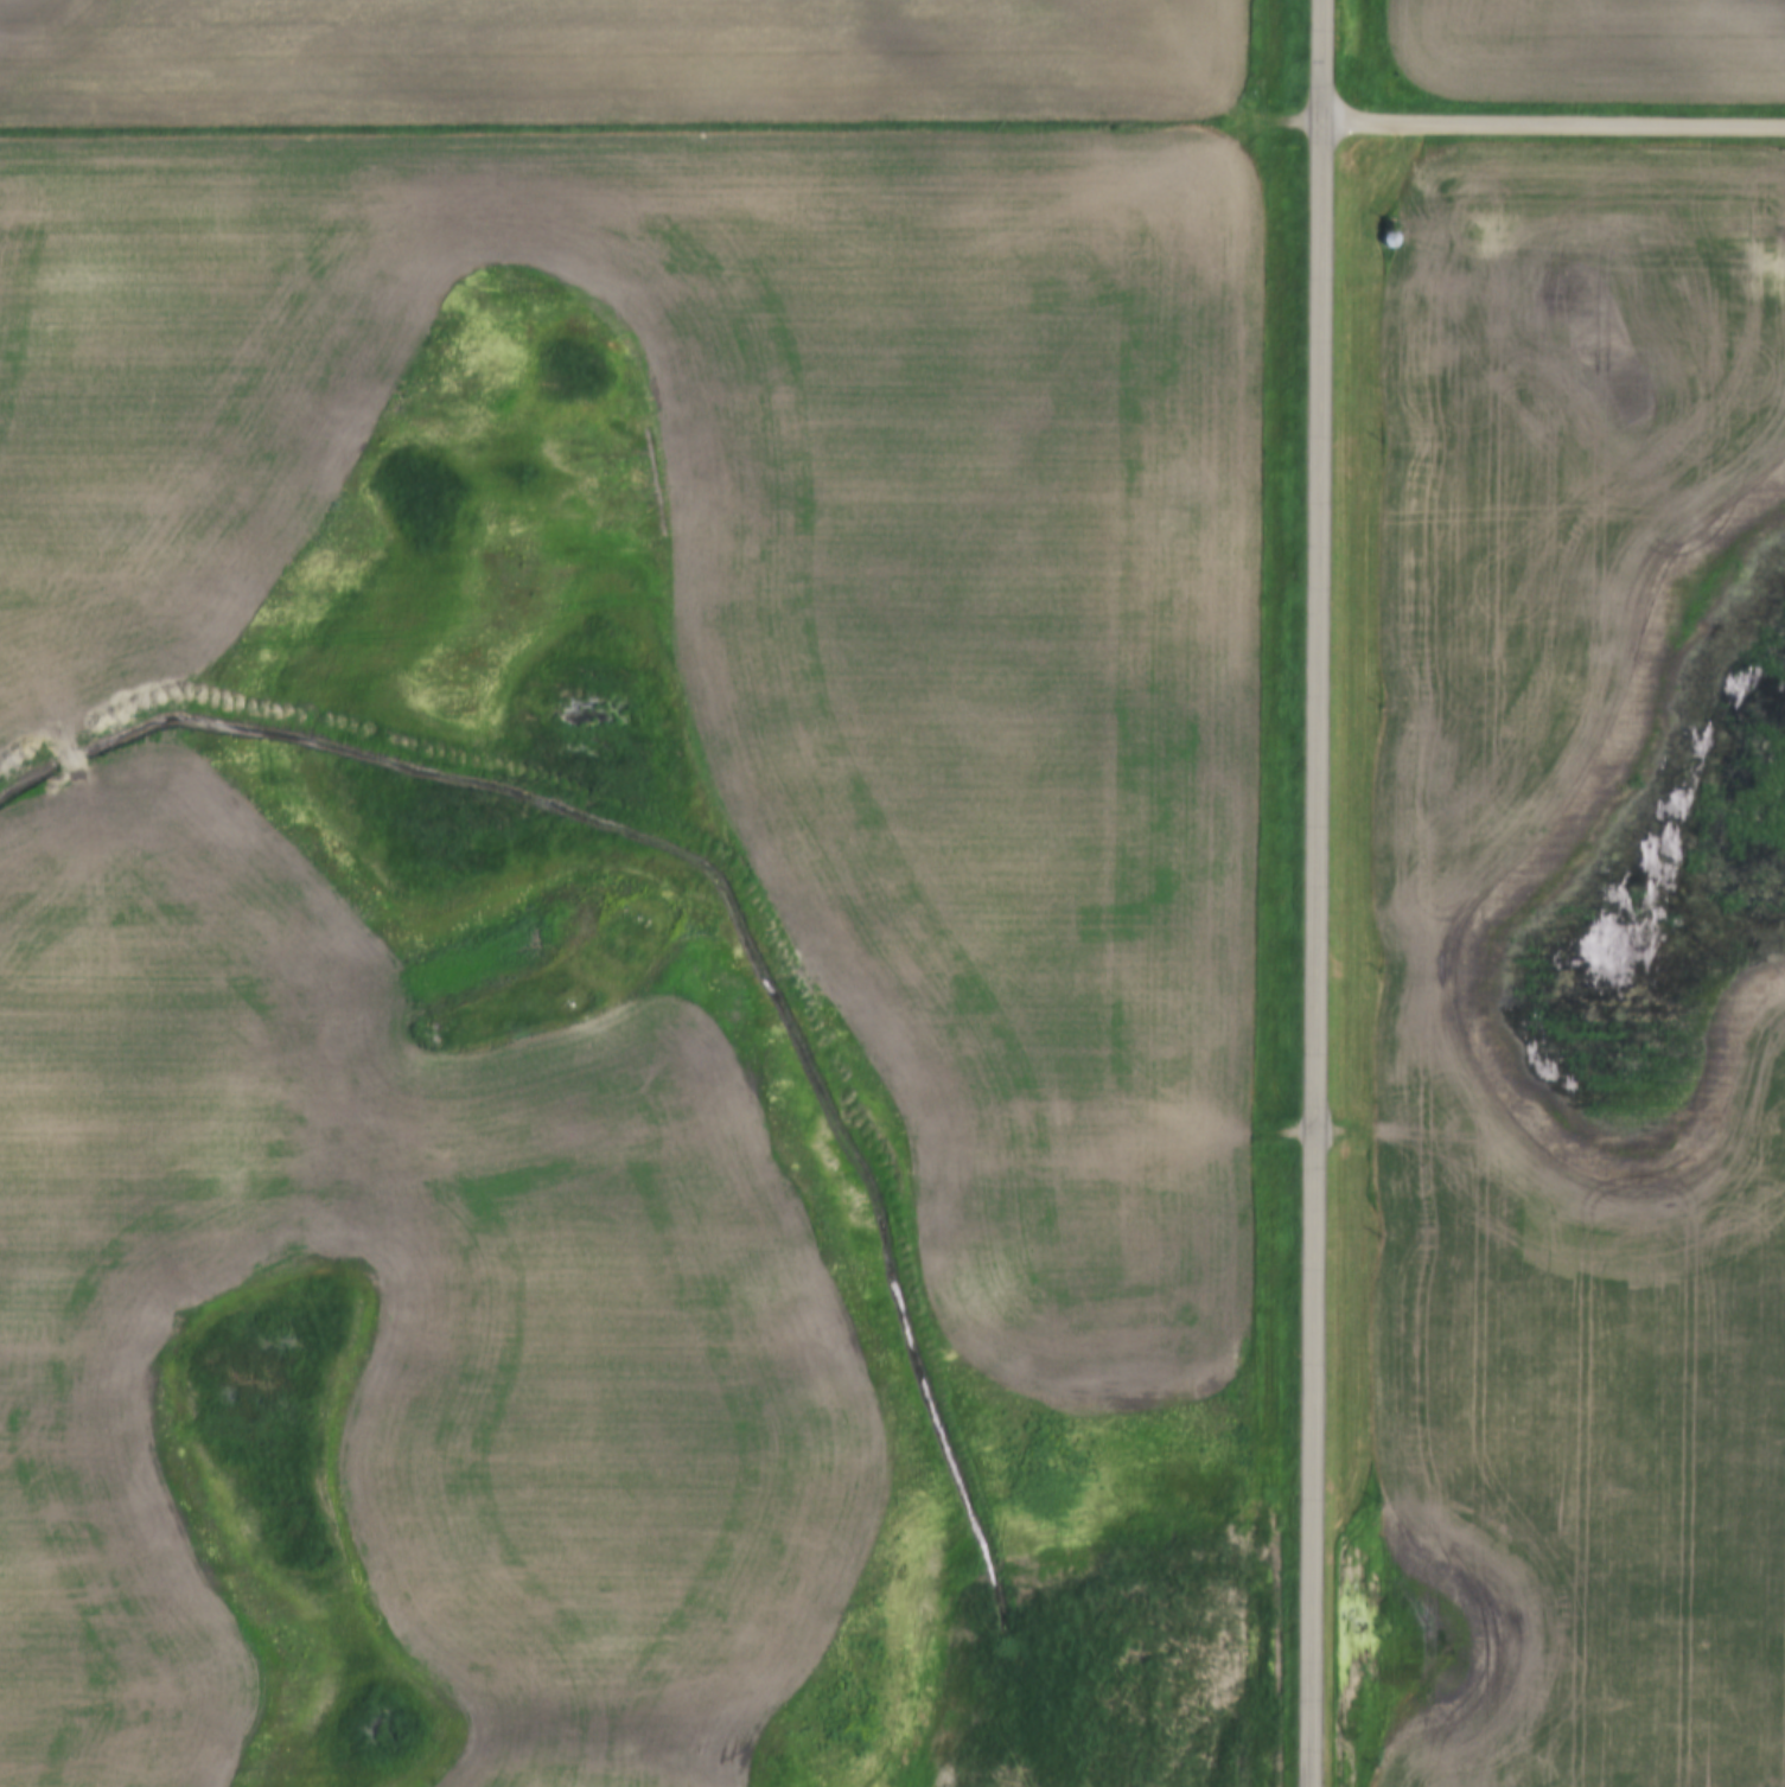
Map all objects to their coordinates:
road: (1551, 127)
building: (1388, 242)
road: (1314, 893)

